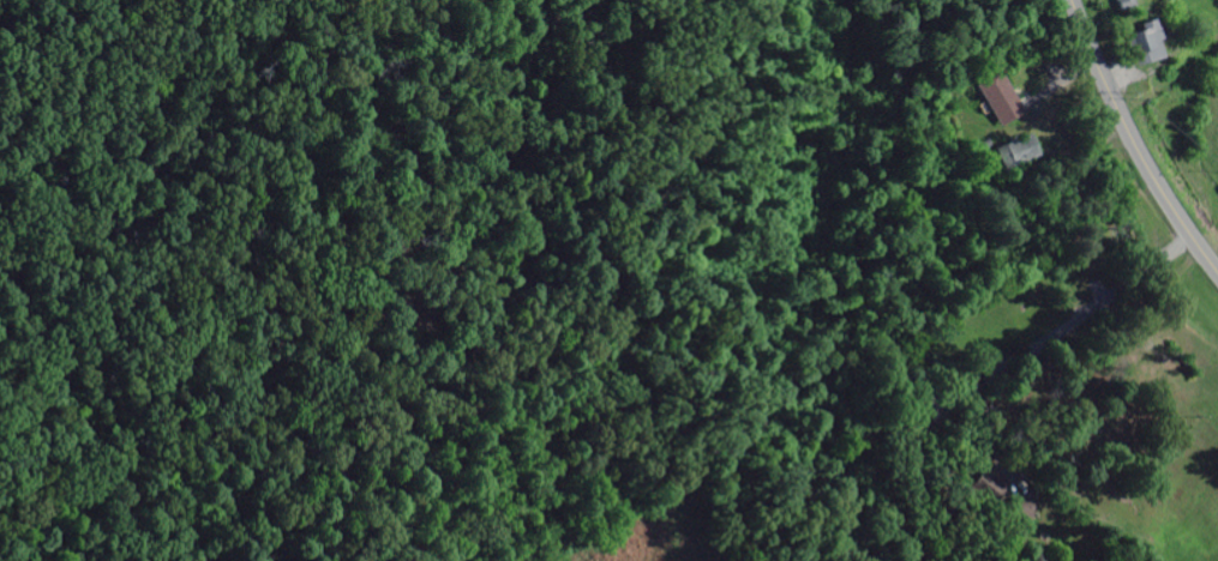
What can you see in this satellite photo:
building: (1120, 5)
building: (1144, 44)
building: (998, 99)
road: (1133, 143)
building: (1015, 155)

